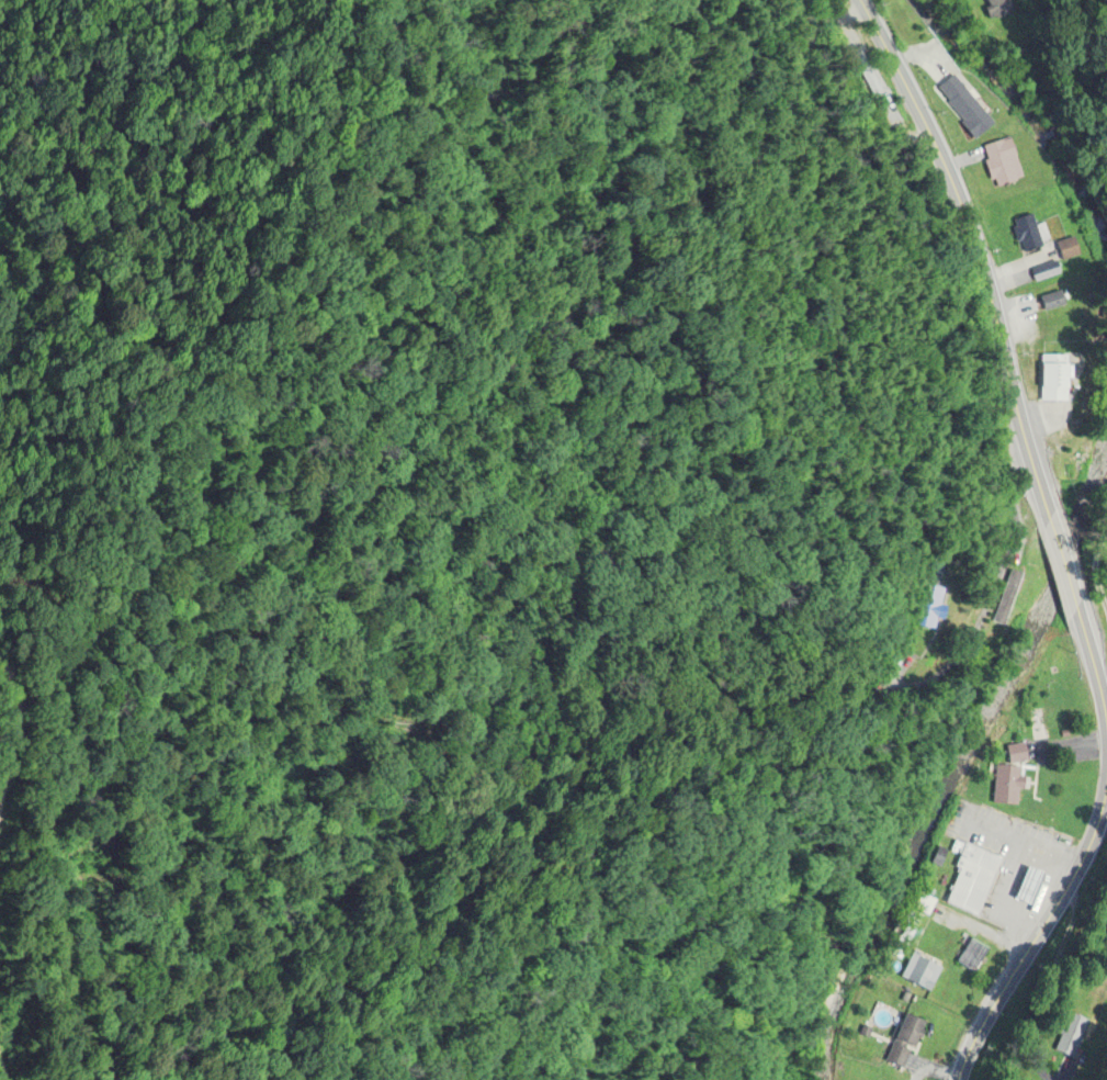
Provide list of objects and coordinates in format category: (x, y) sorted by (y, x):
building: (996, 8)
building: (964, 105)
river: (1032, 109)
building: (1002, 161)
building: (1027, 234)
building: (1066, 249)
road: (974, 257)
building: (1046, 271)
building: (1051, 301)
building: (1055, 378)
road: (1095, 566)
road: (1061, 569)
building: (930, 606)
river: (998, 673)
road: (1106, 758)
building: (1007, 785)
building: (1037, 810)
road: (1020, 843)
road: (1080, 856)
building: (971, 875)
building: (1030, 885)
gas station: (1030, 885)
road: (979, 931)
building: (972, 955)
building: (922, 974)
building: (905, 1040)

